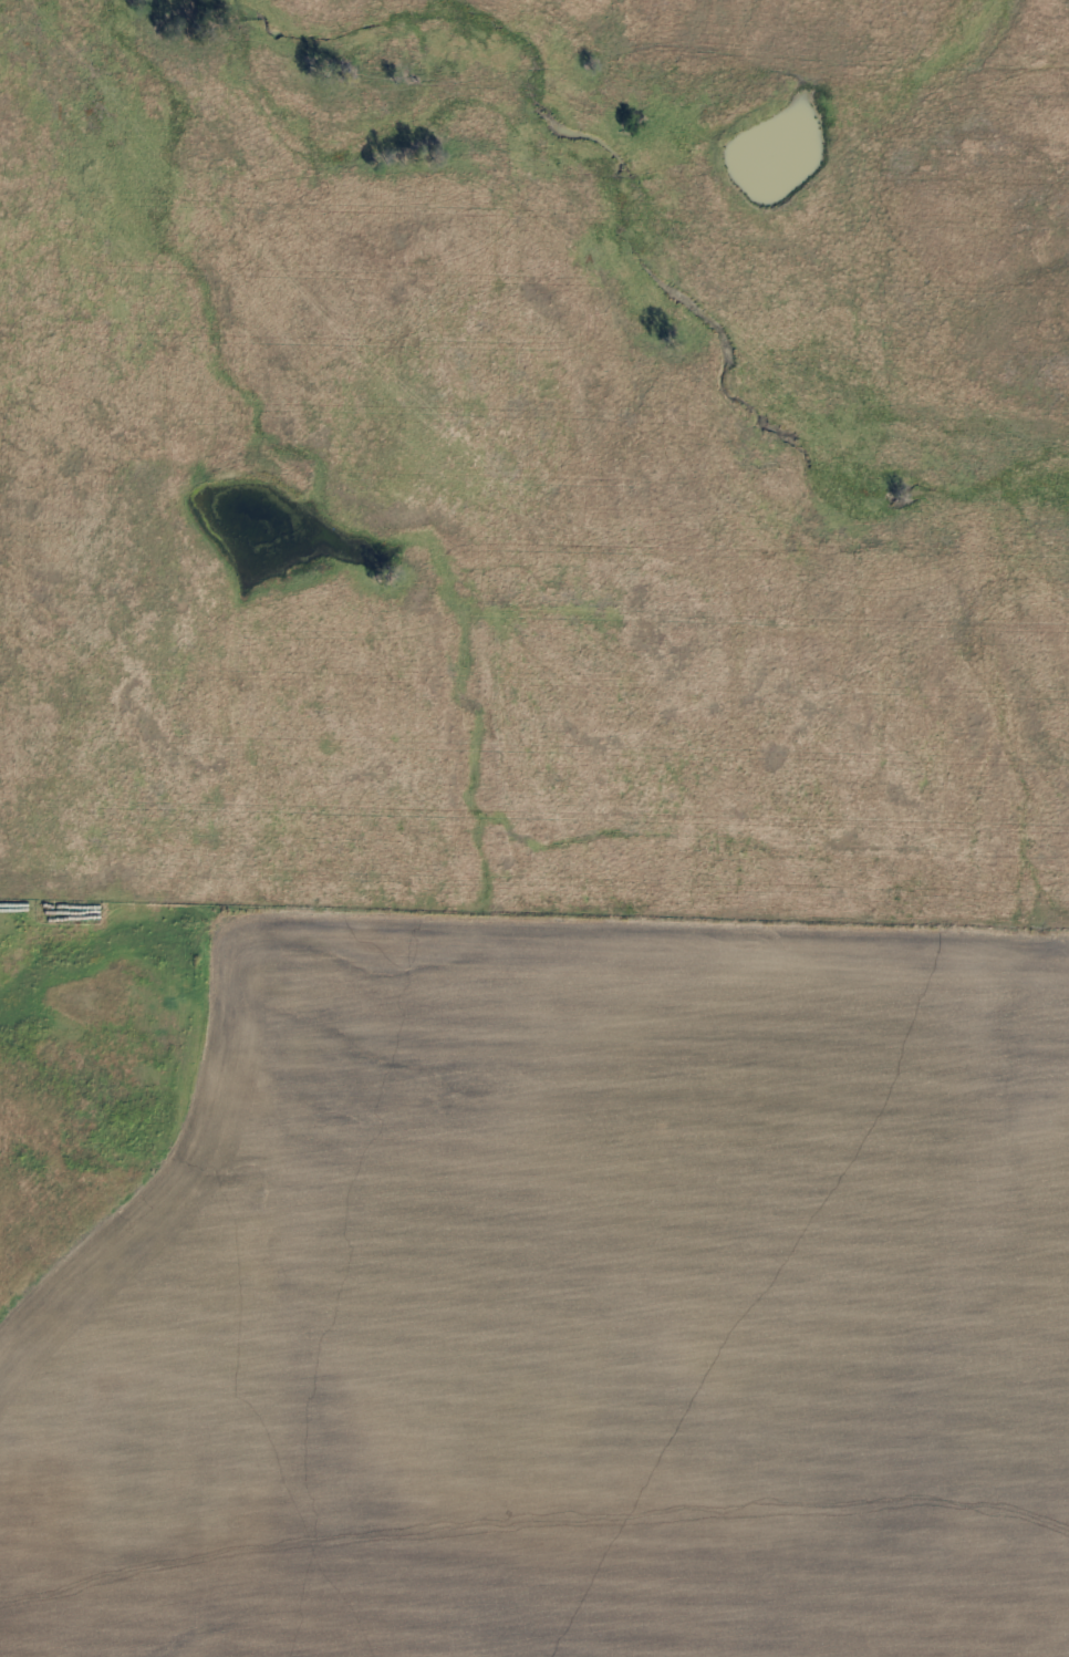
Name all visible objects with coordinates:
crop: (570, 1295)

